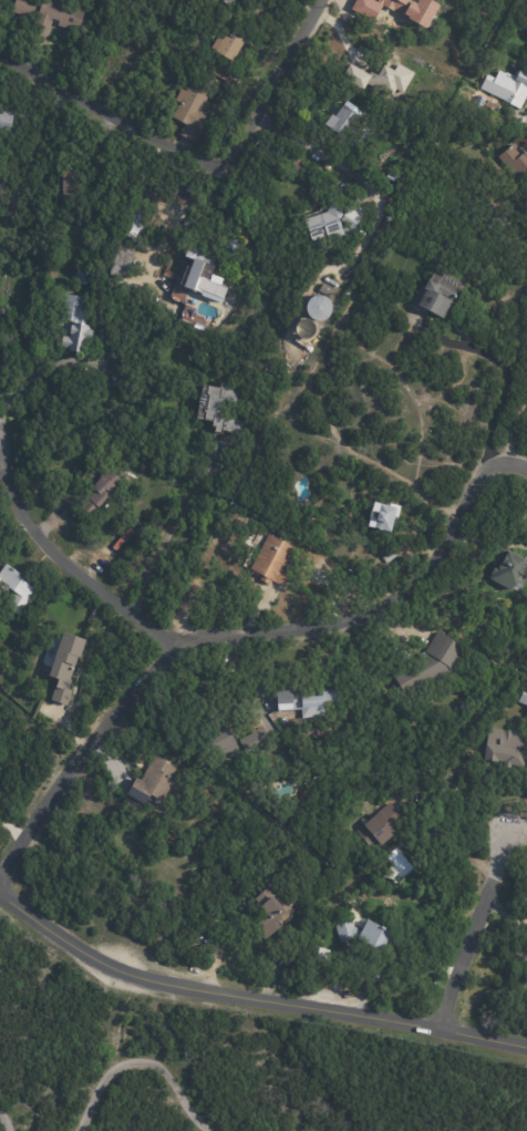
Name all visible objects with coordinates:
building: (227, 3)
building: (21, 9)
building: (58, 17)
building: (525, 27)
building: (526, 33)
building: (224, 59)
building: (379, 79)
road: (278, 85)
building: (507, 88)
building: (189, 113)
road: (108, 116)
building: (4, 120)
building: (345, 126)
building: (514, 162)
road: (342, 172)
building: (395, 177)
building: (69, 186)
road: (166, 222)
building: (332, 223)
building: (133, 225)
building: (120, 263)
building: (201, 277)
building: (81, 279)
building: (325, 290)
building: (434, 296)
building: (156, 305)
building: (319, 309)
building: (74, 325)
building: (309, 332)
road: (500, 363)
road: (28, 379)
building: (220, 410)
building: (97, 494)
building: (381, 518)
road: (175, 526)
building: (389, 557)
road: (66, 558)
building: (272, 562)
building: (505, 574)
building: (15, 593)
road: (258, 628)
building: (64, 666)
building: (426, 667)
road: (224, 689)
building: (306, 705)
building: (231, 746)
building: (504, 750)
building: (151, 784)
building: (380, 830)
road: (518, 833)
building: (169, 837)
building: (133, 903)
building: (269, 913)
road: (473, 928)
building: (363, 937)
building: (520, 952)
building: (319, 957)
road: (257, 989)

